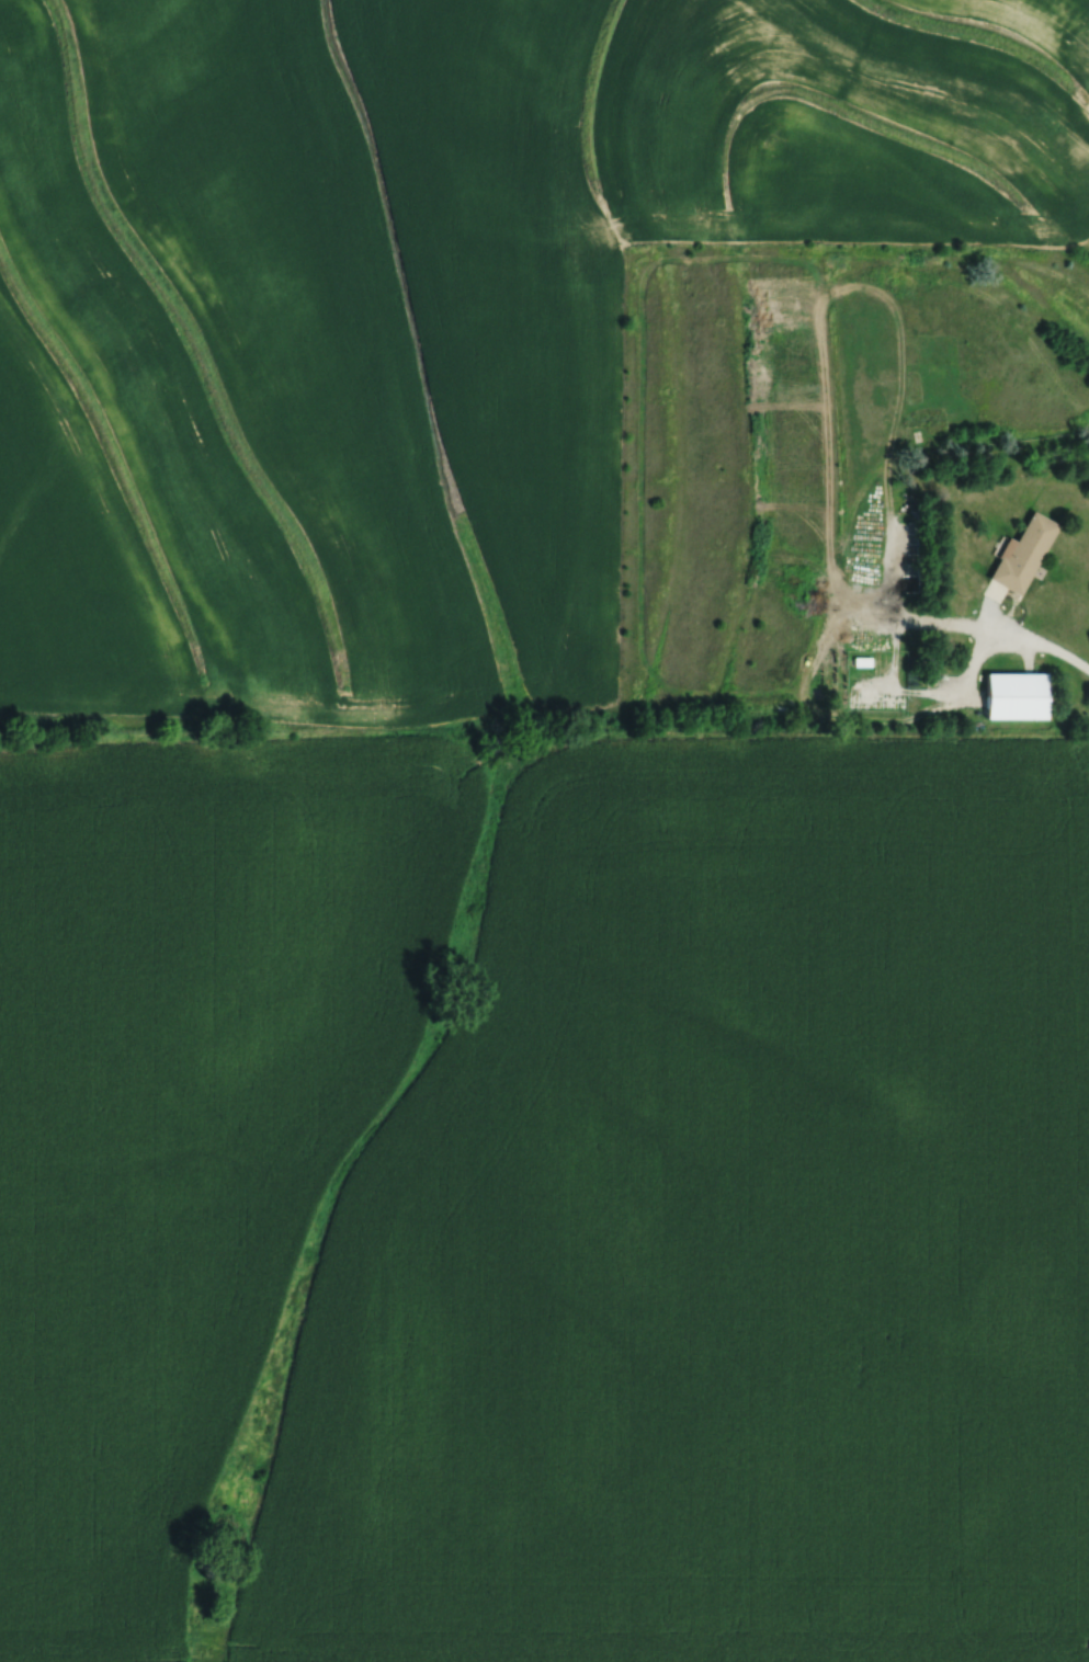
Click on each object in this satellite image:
building: (1018, 554)
road: (1040, 641)
building: (1011, 695)

